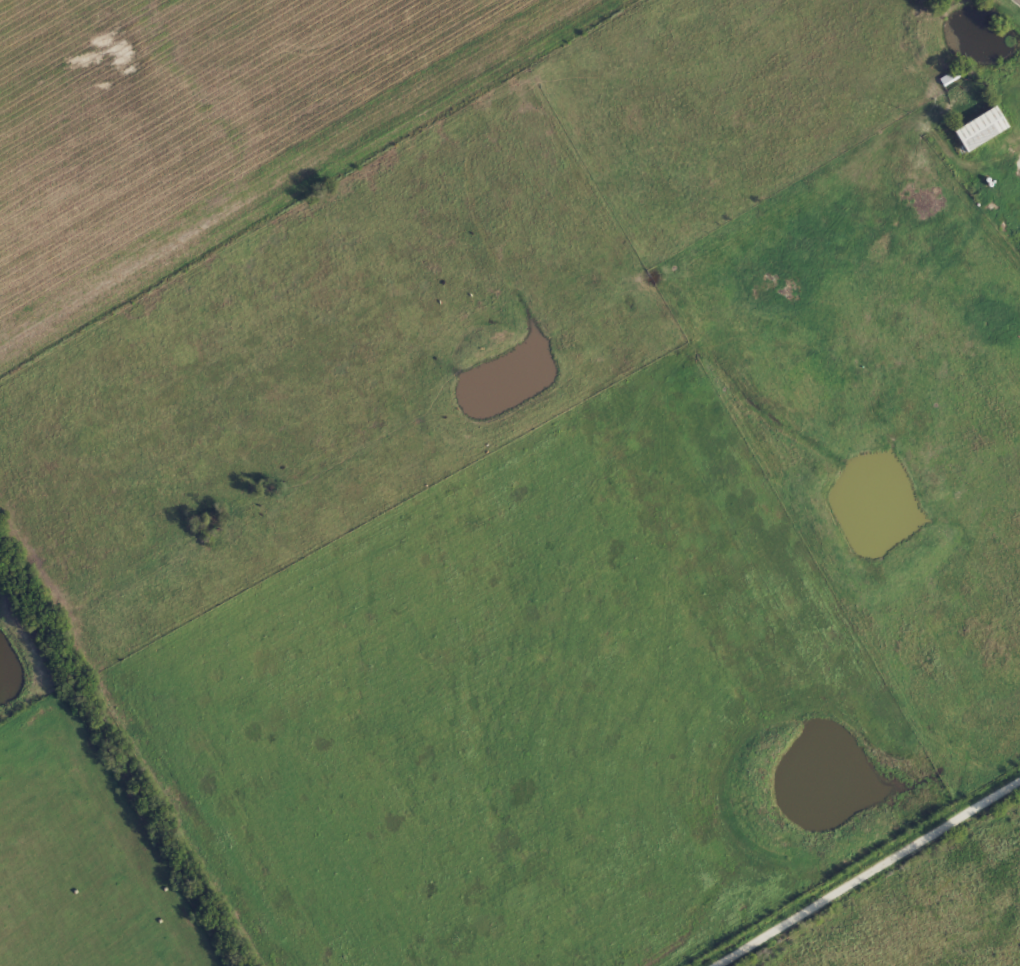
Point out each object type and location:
building: (983, 128)
road: (870, 875)

